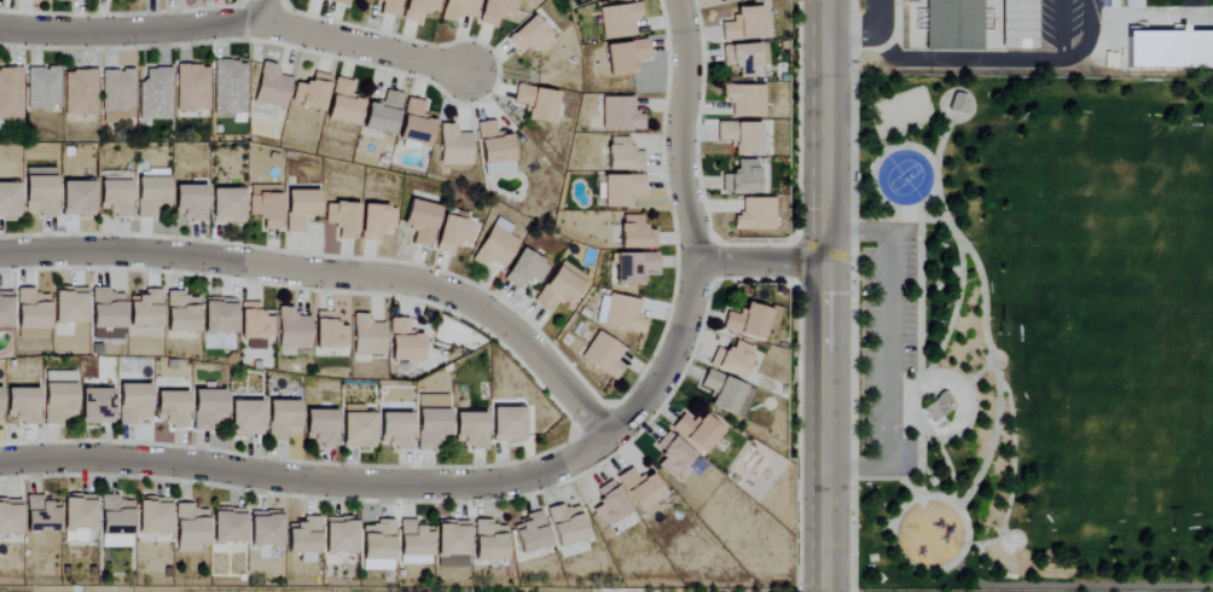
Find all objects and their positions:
building: (326, 0)
building: (339, 1)
building: (1112, 4)
building: (1132, 4)
building: (389, 7)
building: (418, 10)
building: (458, 10)
building: (495, 11)
road: (1062, 11)
road: (260, 12)
building: (619, 21)
building: (1018, 23)
road: (236, 24)
building: (743, 24)
building: (953, 24)
road: (866, 33)
building: (529, 37)
building: (1170, 48)
road: (1078, 53)
building: (625, 57)
building: (741, 59)
road: (963, 59)
building: (192, 87)
building: (228, 87)
building: (271, 87)
building: (42, 88)
building: (80, 92)
building: (310, 92)
building: (155, 93)
building: (10, 94)
building: (117, 95)
building: (744, 100)
building: (536, 103)
building: (343, 104)
building: (956, 104)
building: (383, 114)
building: (620, 114)
park: (900, 114)
building: (416, 123)
road: (679, 129)
building: (739, 137)
building: (454, 146)
building: (494, 149)
building: (622, 155)
park: (905, 178)
building: (742, 179)
building: (621, 190)
building: (40, 191)
building: (151, 196)
building: (115, 197)
building: (76, 198)
building: (8, 199)
building: (188, 202)
building: (226, 205)
building: (266, 205)
park: (1120, 205)
building: (300, 209)
building: (755, 215)
building: (342, 220)
building: (376, 221)
building: (420, 221)
building: (635, 233)
building: (453, 234)
building: (494, 248)
road: (960, 254)
road: (759, 261)
building: (633, 267)
building: (524, 268)
road: (333, 273)
building: (561, 286)
road: (824, 296)
building: (69, 306)
building: (5, 309)
building: (105, 309)
building: (144, 309)
building: (181, 313)
building: (31, 315)
building: (219, 315)
building: (751, 320)
building: (255, 323)
building: (292, 330)
building: (329, 332)
park: (1034, 333)
building: (367, 337)
building: (404, 342)
park: (1189, 343)
road: (889, 349)
building: (603, 355)
building: (732, 360)
road: (997, 373)
road: (976, 375)
building: (726, 394)
building: (58, 396)
building: (133, 404)
building: (22, 405)
building: (95, 406)
road: (965, 406)
building: (938, 407)
building: (172, 408)
building: (208, 410)
park: (1090, 412)
building: (0, 418)
building: (245, 418)
building: (283, 420)
building: (431, 420)
building: (506, 425)
building: (321, 426)
building: (358, 428)
building: (395, 430)
building: (471, 430)
building: (697, 431)
building: (672, 455)
park: (1189, 455)
road: (1014, 458)
road: (948, 468)
road: (410, 486)
building: (640, 489)
building: (609, 504)
building: (41, 515)
building: (152, 516)
building: (10, 517)
building: (79, 517)
building: (115, 523)
building: (565, 524)
building: (227, 526)
building: (190, 528)
building: (265, 529)
building: (530, 534)
building: (339, 535)
building: (304, 540)
building: (489, 541)
building: (414, 544)
building: (452, 544)
building: (377, 546)
road: (903, 558)
road: (1079, 586)

